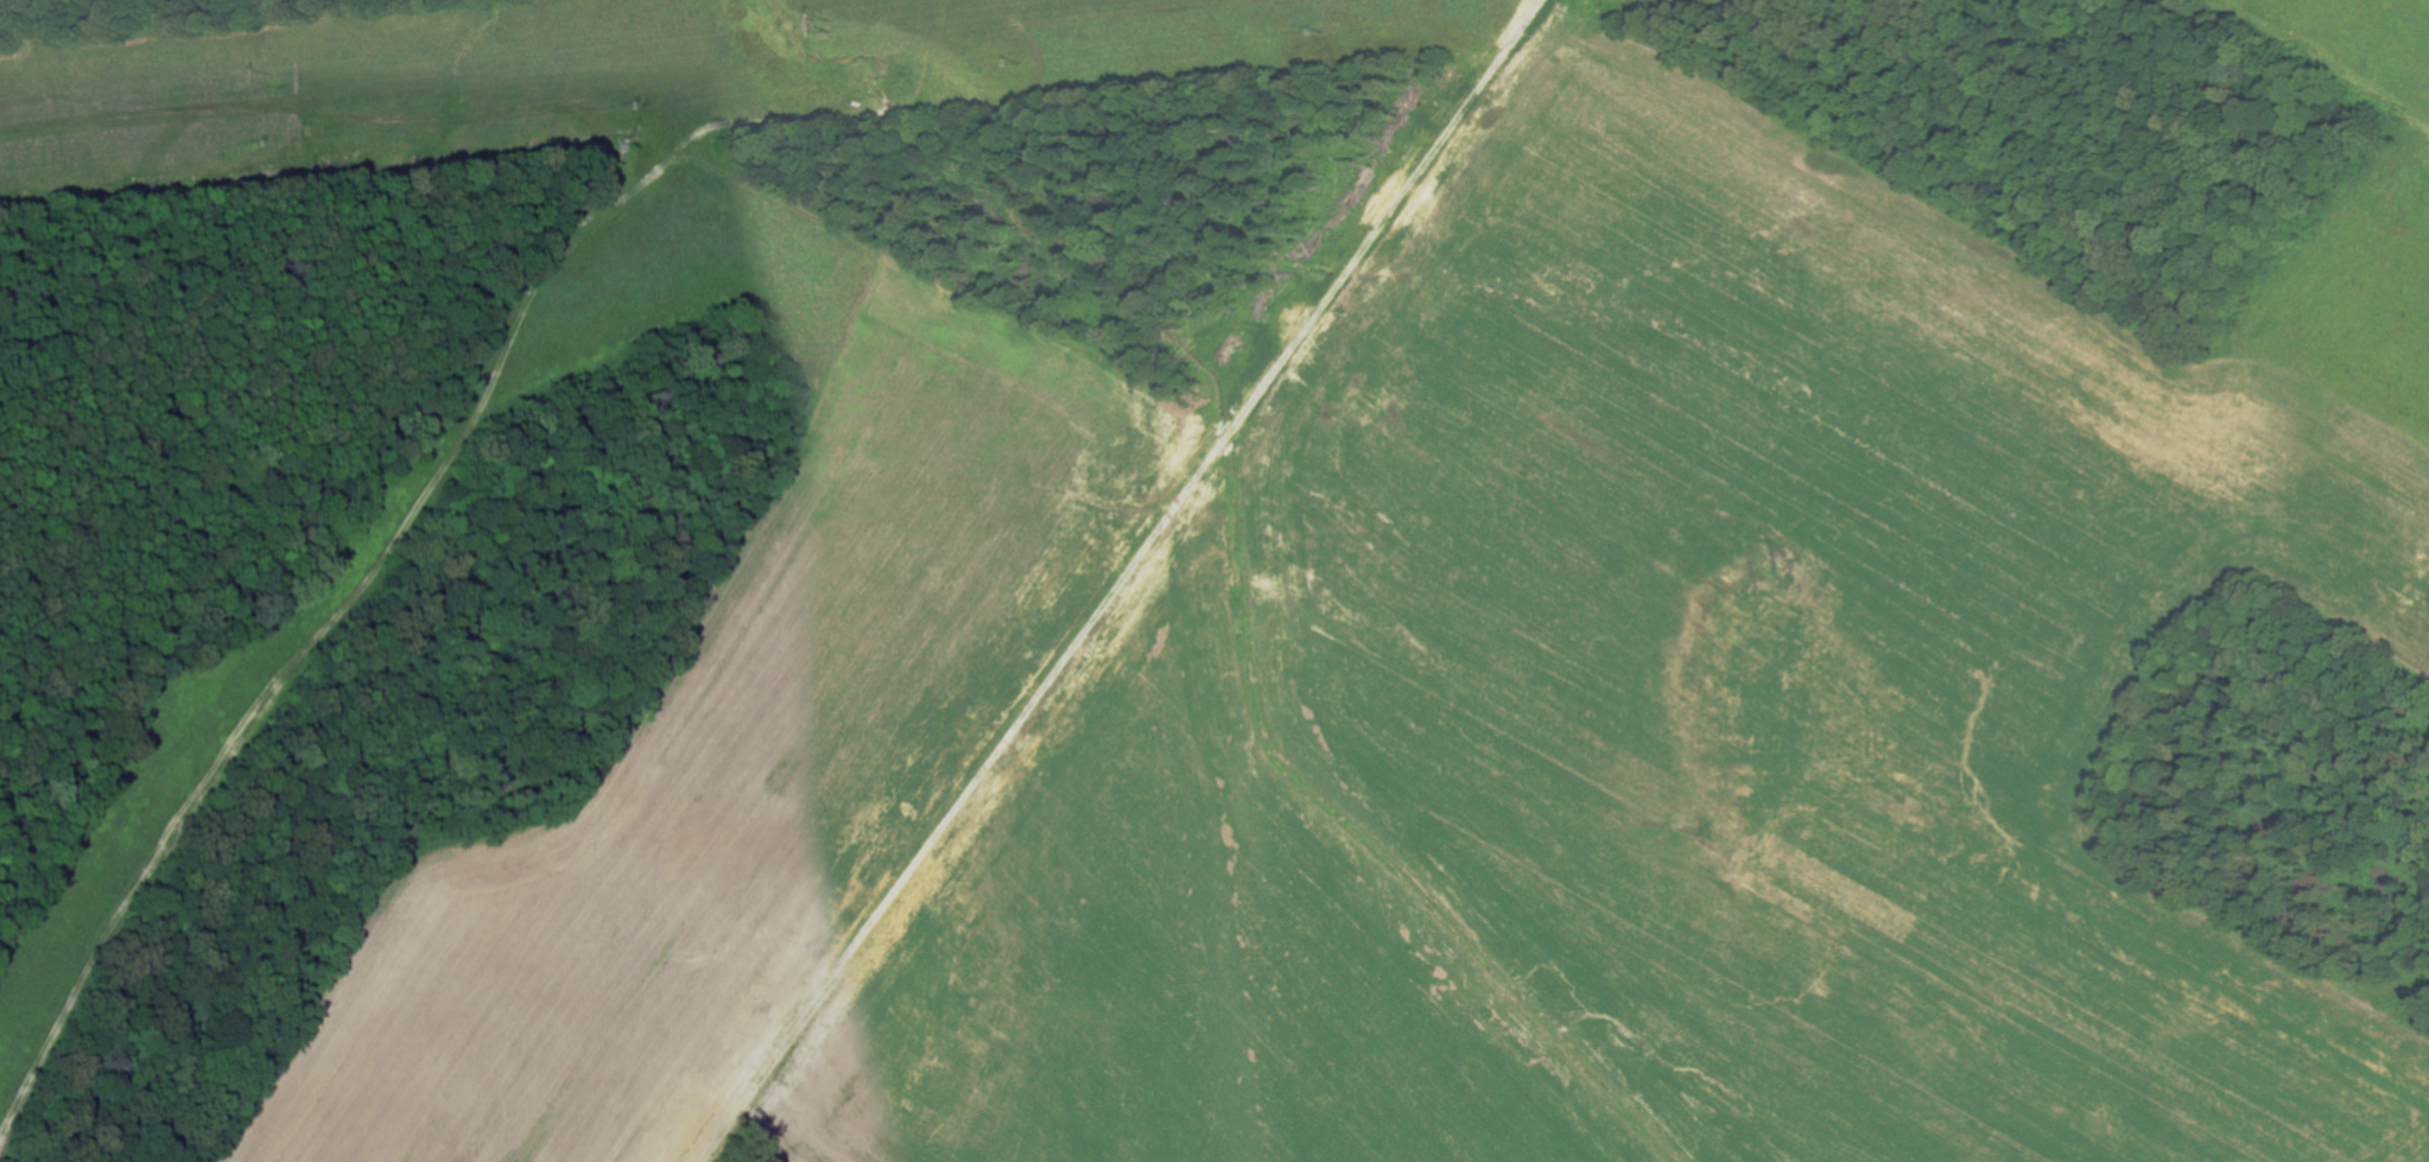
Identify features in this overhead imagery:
power tower: (831, 20)
power tower: (277, 76)

